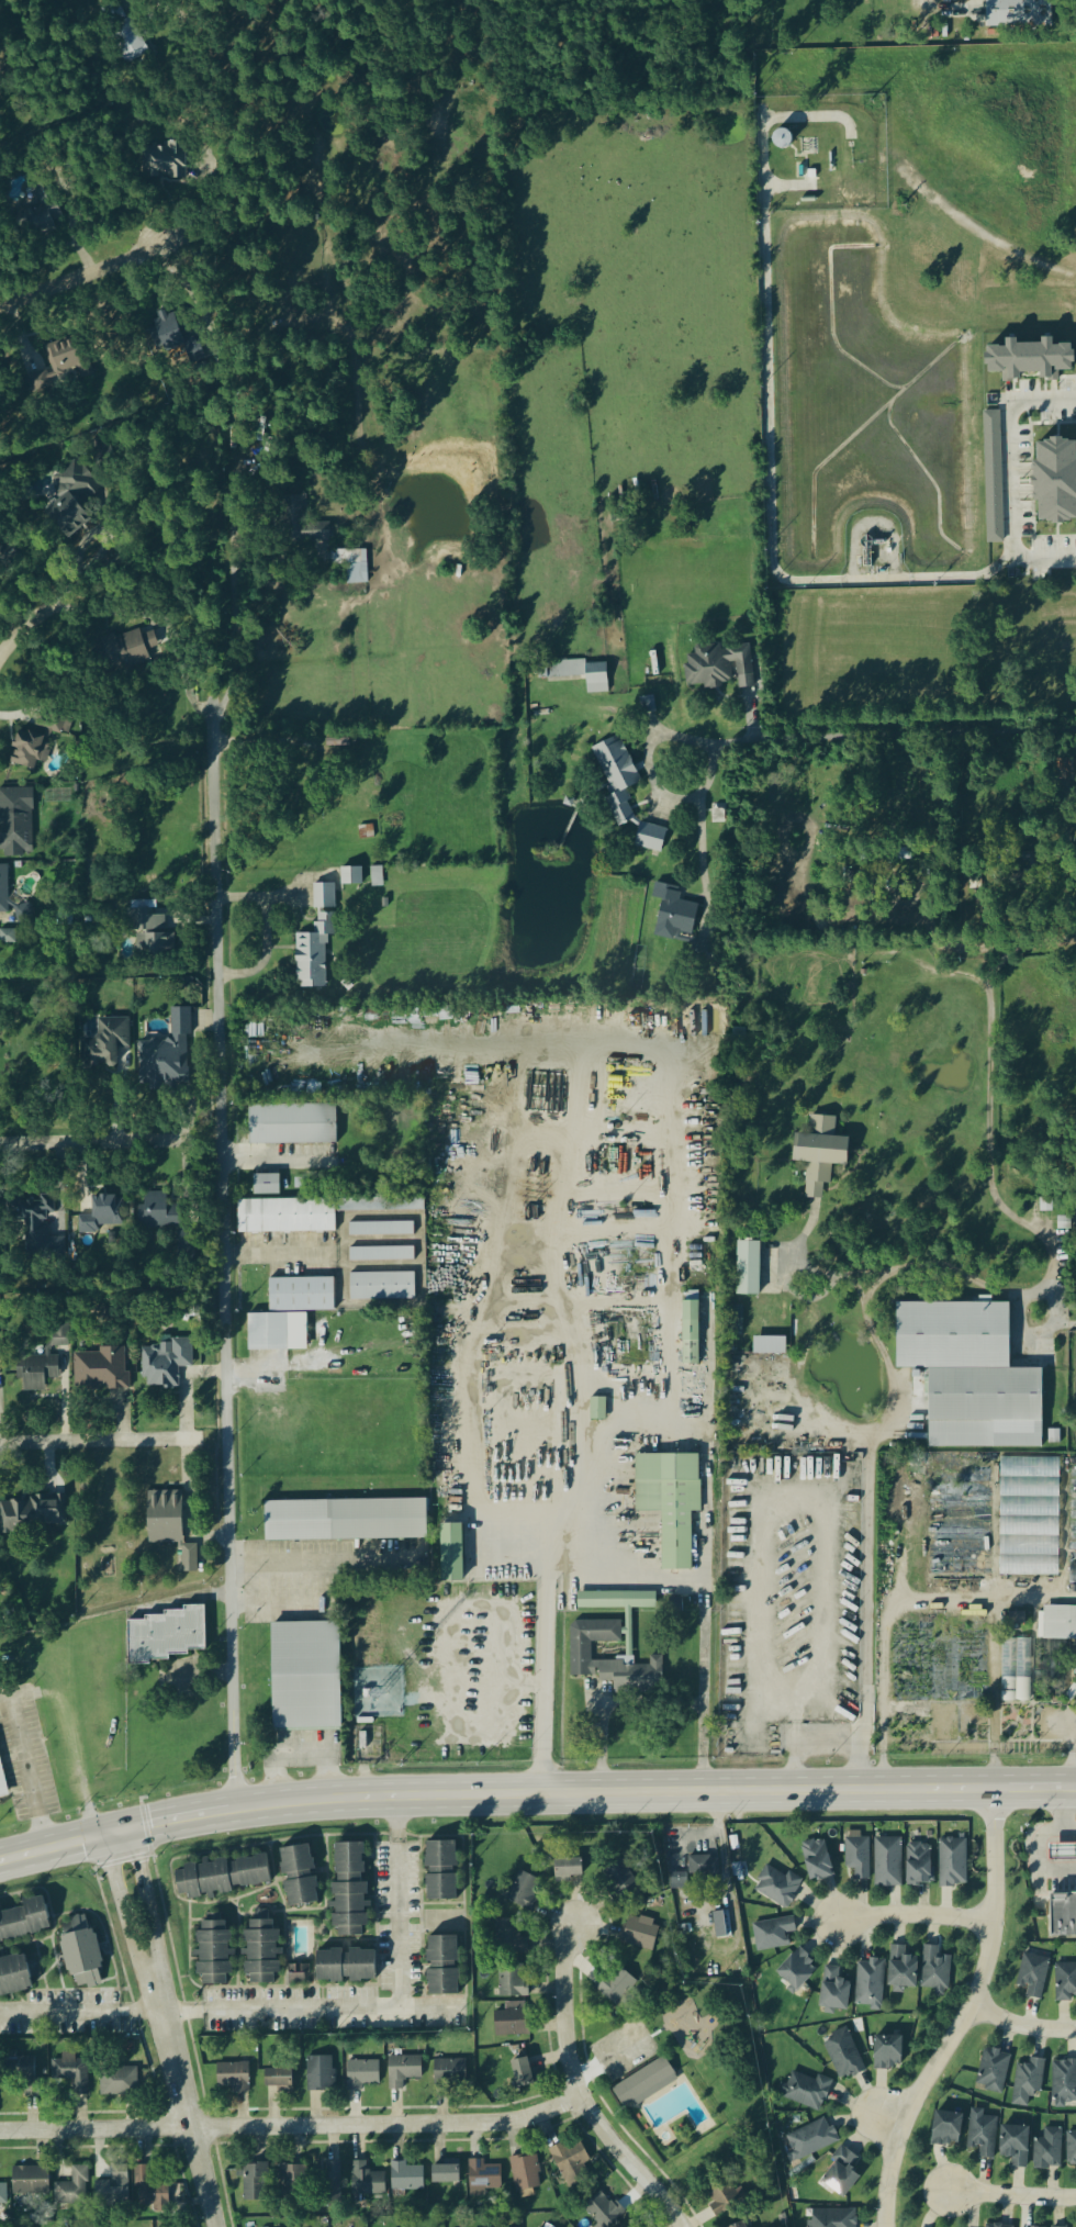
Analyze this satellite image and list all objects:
road: (918, 5)
building: (1022, 12)
building: (784, 138)
building: (168, 163)
crop: (965, 170)
building: (40, 219)
road: (80, 276)
building: (169, 328)
building: (66, 359)
building: (1033, 359)
building: (995, 478)
road: (1017, 478)
building: (1058, 481)
building: (72, 497)
crop: (512, 513)
building: (333, 551)
building: (9, 557)
road: (81, 572)
road: (109, 609)
road: (234, 620)
road: (20, 629)
building: (127, 649)
building: (721, 667)
building: (582, 674)
road: (881, 734)
building: (31, 750)
building: (618, 779)
building: (16, 822)
park: (141, 831)
road: (702, 837)
building: (652, 838)
building: (351, 876)
building: (376, 877)
building: (3, 891)
building: (324, 897)
building: (674, 913)
building: (23, 914)
road: (261, 929)
building: (150, 932)
building: (8, 938)
building: (313, 954)
building: (108, 1044)
building: (168, 1055)
building: (293, 1124)
road: (96, 1139)
building: (821, 1153)
road: (271, 1163)
building: (267, 1185)
building: (380, 1205)
building: (159, 1211)
building: (102, 1216)
building: (287, 1216)
building: (37, 1224)
building: (381, 1229)
road: (339, 1249)
road: (253, 1251)
building: (381, 1254)
road: (222, 1260)
building: (749, 1267)
road: (899, 1268)
building: (382, 1287)
building: (302, 1295)
road: (1056, 1320)
building: (278, 1332)
building: (692, 1333)
building: (57, 1338)
building: (771, 1345)
building: (165, 1363)
building: (101, 1370)
building: (37, 1372)
building: (973, 1375)
building: (598, 1409)
road: (99, 1441)
building: (671, 1501)
building: (1073, 1510)
building: (33, 1513)
building: (166, 1517)
building: (1030, 1518)
building: (347, 1519)
road: (591, 1521)
road: (821, 1521)
road: (868, 1521)
building: (0, 1529)
building: (453, 1553)
building: (1073, 1554)
building: (190, 1558)
road: (321, 1563)
building: (615, 1601)
road: (278, 1605)
road: (890, 1608)
building: (1058, 1624)
road: (704, 1629)
building: (164, 1636)
building: (610, 1660)
road: (543, 1665)
building: (1075, 1668)
building: (304, 1677)
building: (1015, 1690)
road: (994, 1697)
road: (602, 1746)
road: (1073, 1758)
road: (29, 1767)
building: (2, 1788)
road: (535, 1794)
road: (1063, 1815)
road: (397, 1818)
traffic signals: (132, 1828)
traffic signals: (104, 1834)
road: (722, 1850)
building: (1064, 1853)
building: (858, 1855)
road: (1038, 1856)
building: (818, 1860)
building: (951, 1861)
building: (888, 1862)
building: (698, 1865)
building: (920, 1865)
building: (567, 1867)
building: (439, 1871)
building: (221, 1876)
building: (298, 1877)
building: (618, 1880)
building: (677, 1880)
building: (778, 1887)
building: (348, 1890)
building: (524, 1891)
road: (147, 1902)
road: (123, 1907)
building: (1065, 1915)
road: (918, 1918)
building: (23, 1920)
road: (399, 1921)
building: (721, 1925)
building: (773, 1933)
building: (638, 1934)
building: (508, 1938)
building: (79, 1949)
building: (260, 1951)
building: (212, 1952)
building: (345, 1966)
building: (441, 1966)
building: (796, 1968)
building: (900, 1968)
building: (933, 1969)
building: (1032, 1974)
building: (13, 1976)
building: (296, 1976)
building: (513, 1981)
building: (1065, 1981)
building: (868, 1983)
building: (615, 1985)
building: (832, 1989)
road: (329, 2006)
road: (104, 2011)
road: (968, 2016)
building: (511, 2023)
road: (1022, 2027)
building: (886, 2052)
building: (842, 2053)
building: (403, 2070)
building: (21, 2071)
building: (991, 2071)
building: (71, 2073)
building: (320, 2073)
building: (520, 2073)
building: (362, 2074)
building: (449, 2074)
park: (683, 2077)
building: (232, 2078)
building: (277, 2080)
building: (1027, 2081)
building: (1064, 2081)
building: (117, 2082)
building: (643, 2084)
building: (806, 2090)
road: (579, 2092)
road: (183, 2101)
road: (889, 2120)
road: (292, 2126)
building: (944, 2128)
building: (982, 2133)
building: (810, 2139)
building: (1013, 2145)
building: (1071, 2148)
building: (1047, 2149)
building: (570, 2162)
building: (525, 2173)
building: (840, 2173)
building: (444, 2174)
building: (483, 2176)
building: (406, 2178)
building: (29, 2181)
building: (365, 2181)
building: (255, 2183)
building: (292, 2183)
building: (329, 2185)
building: (112, 2189)
building: (148, 2189)
building: (74, 2190)
building: (2, 2194)
building: (720, 2196)
road: (1012, 2197)
building: (603, 2211)
building: (831, 2218)
building: (738, 2225)
building: (746, 2225)
building: (996, 2226)

